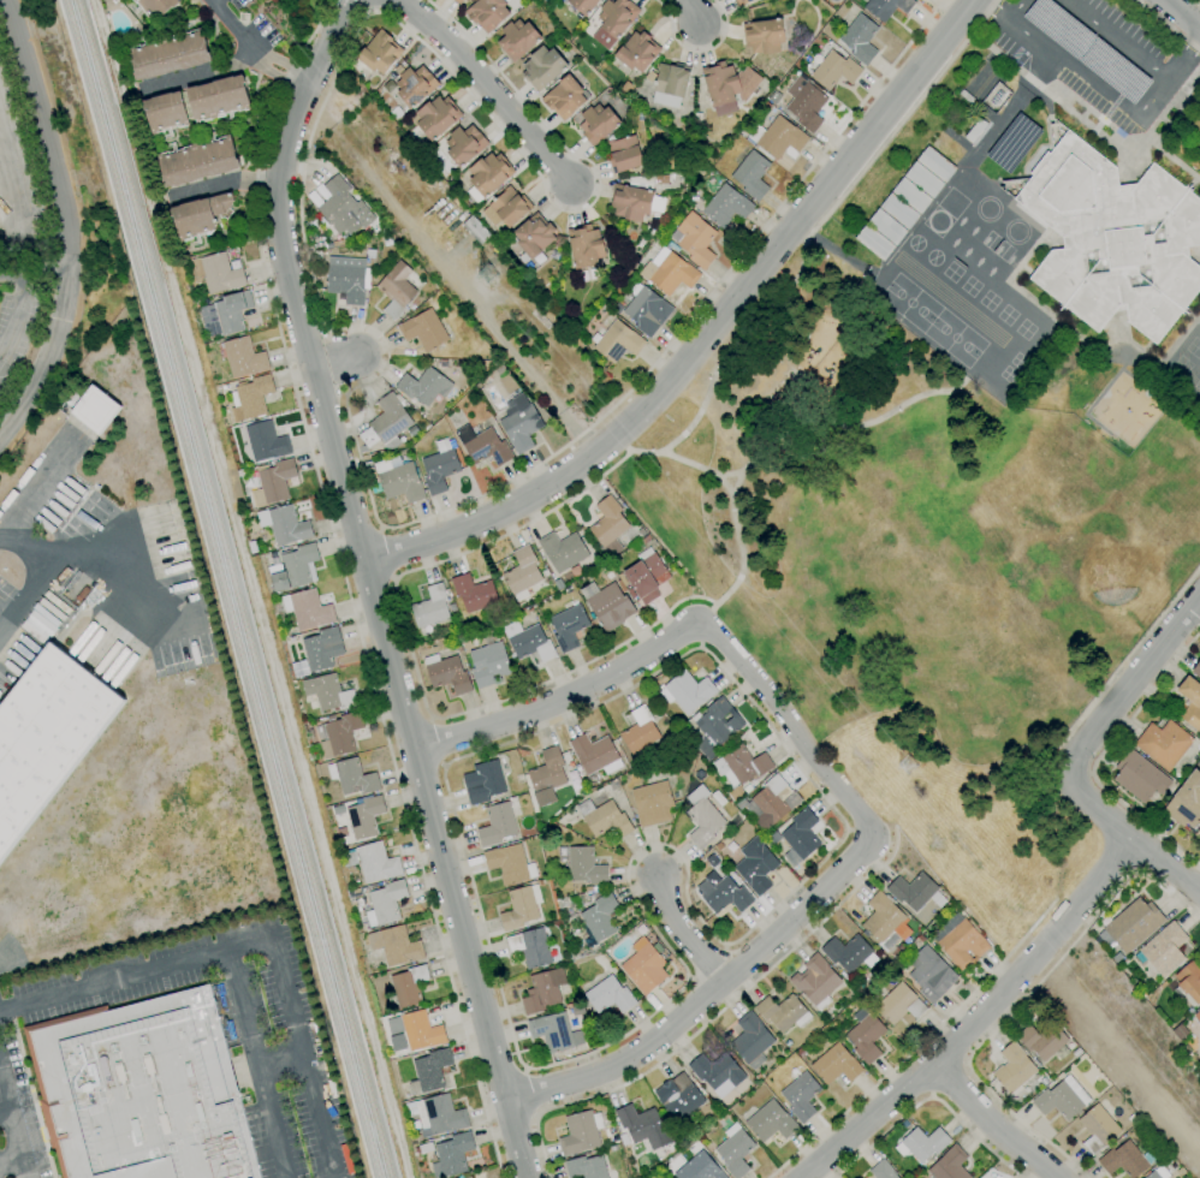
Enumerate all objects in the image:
road: (1199, 0)
building: (458, 1)
building: (741, 2)
building: (583, 5)
building: (156, 7)
building: (886, 7)
road: (996, 10)
road: (690, 11)
road: (1017, 11)
building: (487, 13)
road: (1181, 14)
building: (614, 20)
road: (1168, 25)
building: (764, 35)
road: (1117, 36)
building: (517, 38)
building: (860, 38)
road: (329, 42)
road: (253, 49)
road: (1182, 50)
building: (637, 52)
road: (696, 52)
parking lot: (1093, 53)
building: (168, 54)
building: (378, 54)
building: (542, 67)
building: (834, 70)
road: (200, 73)
building: (414, 84)
building: (670, 84)
road: (485, 85)
road: (1094, 85)
building: (721, 87)
building: (564, 96)
building: (966, 96)
building: (218, 97)
building: (804, 103)
building: (165, 112)
building: (435, 117)
road: (899, 121)
building: (596, 123)
building: (975, 130)
road: (308, 136)
building: (777, 138)
building: (1012, 142)
building: (464, 144)
building: (624, 154)
building: (197, 161)
building: (937, 163)
building: (489, 173)
building: (752, 175)
building: (923, 179)
road: (224, 182)
road: (7, 184)
road: (541, 184)
building: (911, 195)
building: (635, 202)
building: (726, 206)
building: (509, 207)
building: (343, 208)
building: (898, 210)
building: (198, 215)
road: (67, 221)
building: (886, 226)
building: (475, 230)
building: (1111, 236)
building: (534, 237)
building: (695, 239)
building: (873, 242)
building: (586, 245)
park: (996, 245)
road: (34, 263)
power tower: (485, 266)
park: (951, 272)
building: (216, 273)
building: (672, 274)
building: (347, 278)
park: (969, 286)
building: (396, 288)
park: (987, 301)
park: (908, 303)
road: (699, 307)
road: (12, 309)
building: (647, 310)
building: (225, 314)
park: (1005, 315)
building: (423, 329)
park: (1023, 329)
park: (1199, 329)
road: (327, 331)
road: (709, 333)
park: (954, 338)
building: (617, 341)
road: (384, 344)
road: (730, 345)
park: (1193, 347)
building: (243, 357)
road: (334, 361)
road: (333, 362)
park: (1180, 365)
building: (422, 386)
road: (343, 392)
building: (251, 398)
building: (93, 407)
building: (519, 423)
building: (385, 426)
road: (853, 426)
building: (266, 441)
building: (483, 445)
building: (439, 470)
building: (275, 480)
building: (398, 481)
road: (721, 484)
road: (731, 487)
road: (34, 488)
building: (608, 524)
building: (286, 525)
road: (518, 526)
road: (382, 528)
road: (379, 530)
road: (29, 547)
road: (337, 548)
building: (563, 551)
road: (384, 554)
road: (90, 557)
building: (295, 567)
building: (522, 570)
road: (1195, 571)
building: (646, 576)
road: (392, 578)
railway: (220, 588)
railway: (232, 588)
building: (474, 593)
building: (607, 605)
building: (430, 606)
building: (308, 609)
park: (937, 618)
building: (569, 627)
road: (382, 631)
building: (528, 641)
building: (322, 648)
road: (1125, 660)
building: (488, 664)
building: (1196, 670)
building: (447, 673)
road: (1130, 684)
building: (328, 691)
building: (687, 691)
road: (513, 696)
road: (563, 701)
building: (1190, 702)
road: (430, 720)
building: (715, 727)
building: (638, 730)
road: (786, 731)
building: (343, 732)
building: (46, 736)
road: (434, 743)
building: (1164, 744)
building: (595, 754)
power tower: (901, 757)
road: (1099, 757)
road: (441, 764)
building: (742, 766)
building: (547, 775)
building: (352, 777)
building: (1139, 777)
building: (483, 781)
building: (1186, 802)
building: (653, 803)
building: (768, 803)
building: (364, 817)
building: (702, 817)
building: (605, 819)
building: (497, 825)
building: (800, 837)
road: (1127, 838)
building: (374, 862)
building: (509, 864)
building: (584, 865)
building: (755, 867)
building: (913, 890)
building: (724, 894)
road: (687, 898)
building: (385, 903)
building: (518, 909)
building: (598, 920)
building: (883, 920)
building: (1133, 924)
road: (682, 934)
building: (960, 941)
building: (396, 946)
building: (530, 947)
building: (1163, 950)
building: (848, 952)
building: (644, 966)
road: (135, 974)
building: (931, 974)
building: (815, 981)
building: (1188, 984)
building: (408, 986)
building: (542, 990)
building: (608, 995)
road: (703, 995)
road: (1023, 998)
building: (899, 1004)
building: (783, 1012)
road: (712, 1016)
building: (1198, 1016)
road: (976, 1017)
building: (416, 1030)
building: (554, 1031)
building: (866, 1035)
building: (1042, 1040)
building: (750, 1041)
road: (917, 1045)
road: (280, 1059)
road: (305, 1059)
road: (255, 1064)
building: (836, 1065)
building: (1012, 1069)
building: (430, 1071)
building: (717, 1072)
road: (949, 1078)
building: (141, 1091)
road: (531, 1091)
building: (678, 1096)
building: (801, 1096)
road: (927, 1097)
building: (1062, 1099)
road: (2, 1107)
building: (436, 1115)
building: (771, 1122)
road: (991, 1125)
building: (643, 1126)
building: (1097, 1129)
road: (12, 1131)
building: (581, 1132)
road: (493, 1141)
building: (925, 1143)
building: (423, 1148)
building: (735, 1150)
building: (451, 1155)
road: (8, 1158)
building: (1125, 1160)
building: (949, 1165)
building: (586, 1167)
building: (701, 1170)
building: (881, 1171)
building: (1158, 1173)
building: (469, 1177)

